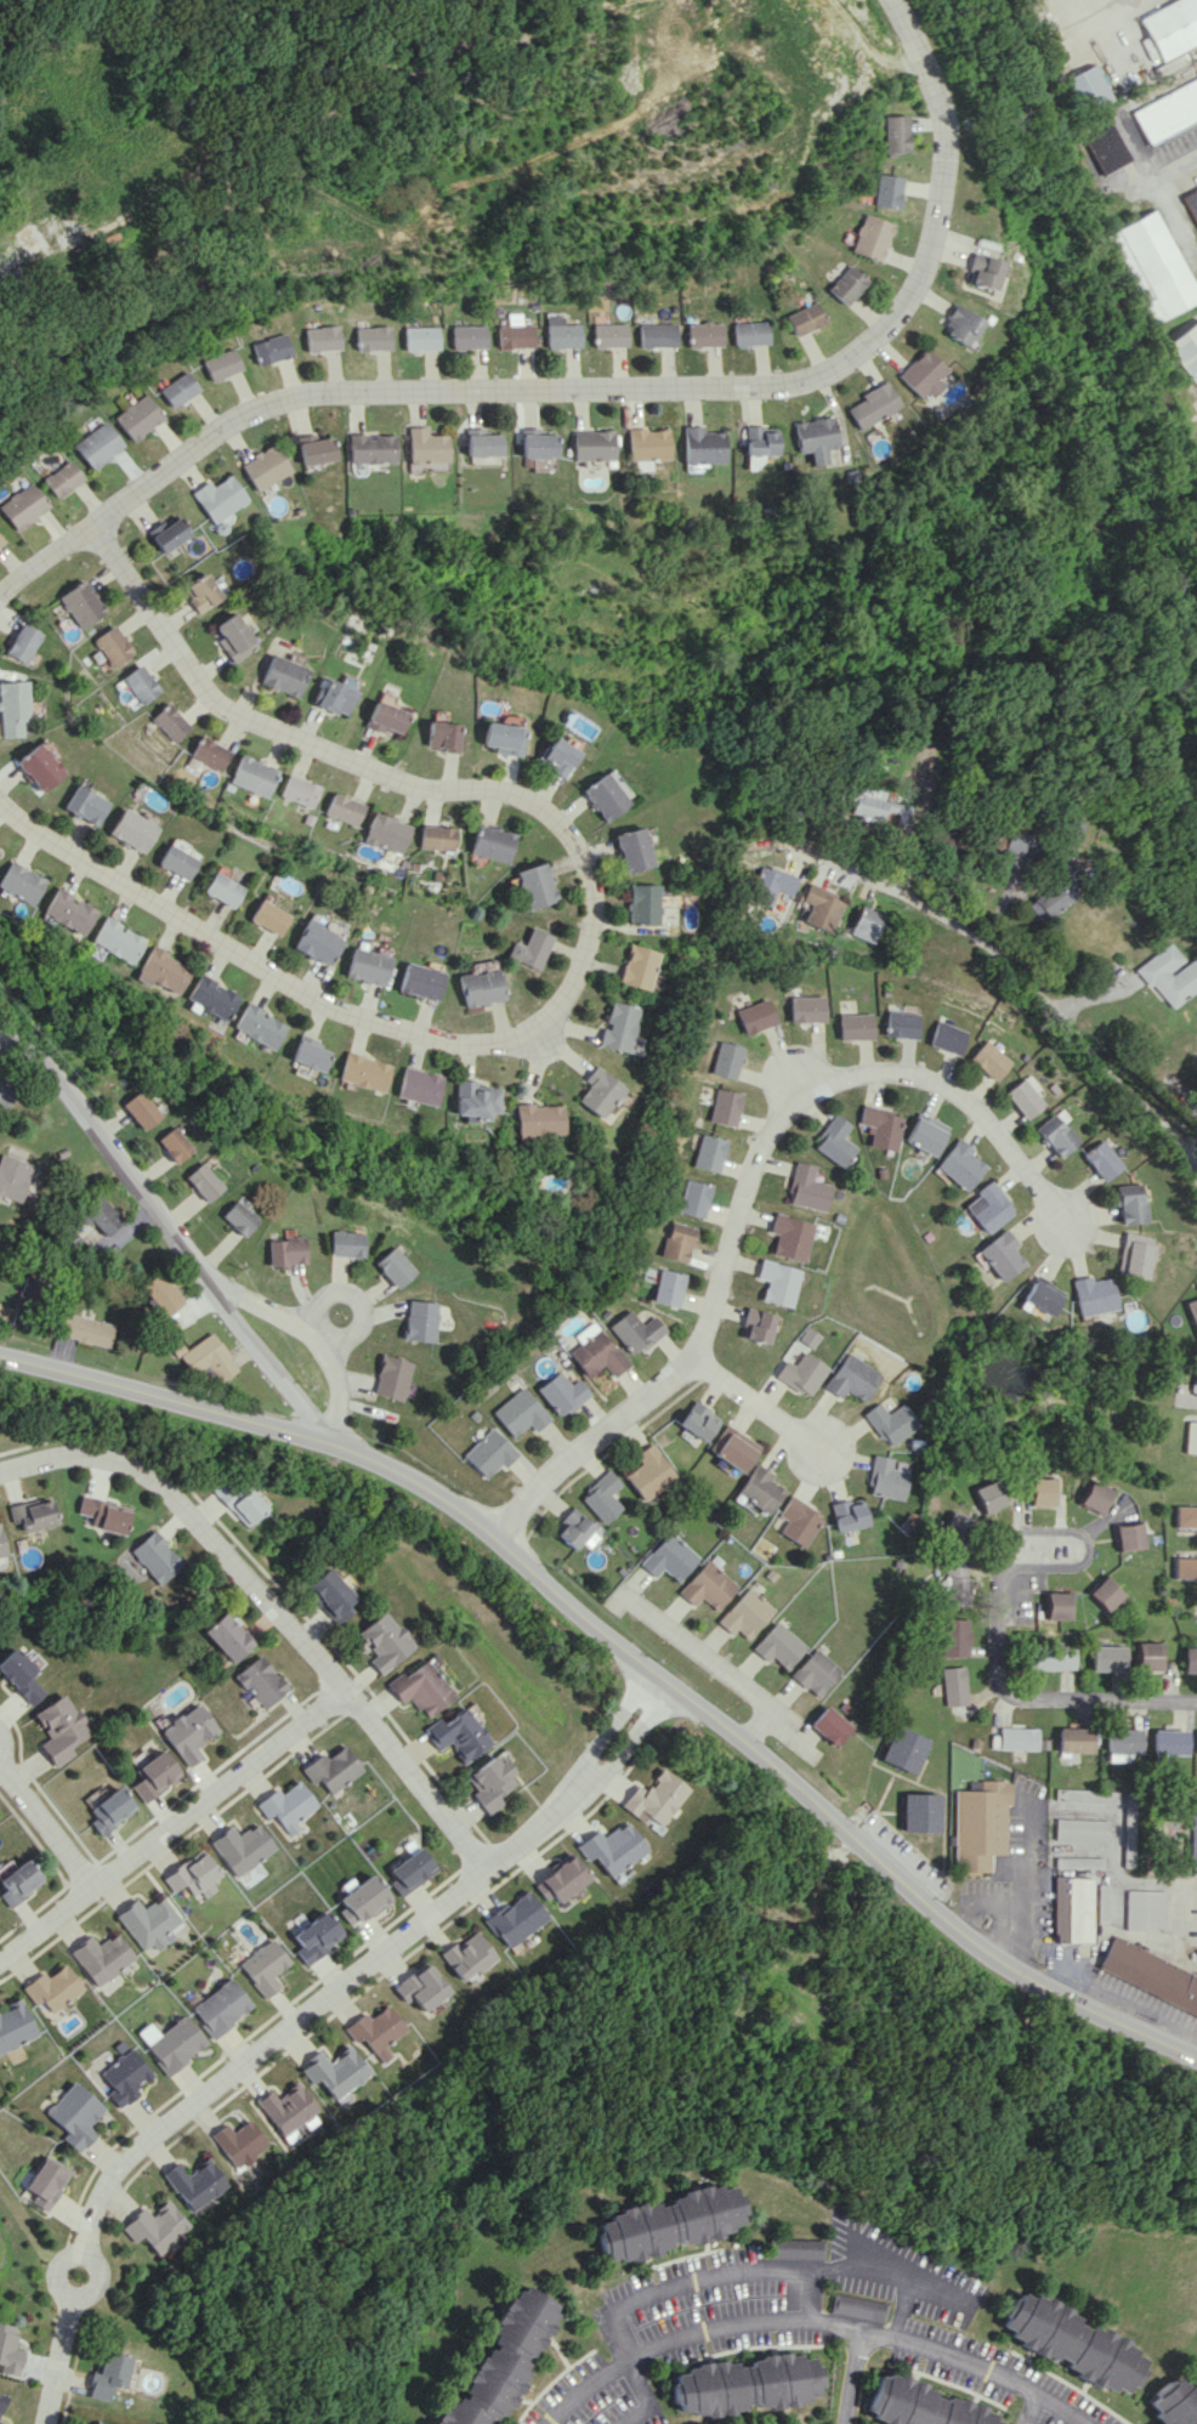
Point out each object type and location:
building: (1170, 25)
building: (1196, 70)
building: (1088, 85)
building: (1167, 112)
building: (896, 134)
building: (1106, 147)
road: (1167, 172)
building: (887, 191)
building: (1191, 200)
building: (872, 237)
building: (1152, 266)
building: (980, 271)
building: (846, 284)
building: (805, 318)
building: (958, 325)
building: (560, 331)
building: (514, 333)
building: (749, 333)
building: (609, 334)
building: (704, 334)
building: (656, 335)
building: (466, 336)
building: (371, 337)
building: (419, 337)
building: (322, 339)
building: (271, 348)
building: (1185, 350)
building: (221, 364)
building: (920, 374)
building: (177, 388)
road: (654, 393)
building: (869, 404)
building: (136, 416)
building: (811, 437)
building: (756, 439)
building: (478, 443)
building: (534, 443)
building: (95, 444)
building: (589, 444)
building: (699, 445)
building: (643, 447)
building: (368, 448)
building: (311, 449)
building: (422, 450)
building: (260, 466)
building: (58, 478)
building: (214, 500)
building: (19, 505)
building: (163, 533)
building: (198, 592)
building: (79, 603)
building: (233, 637)
building: (22, 642)
building: (112, 646)
building: (283, 675)
building: (141, 683)
building: (331, 697)
building: (13, 708)
building: (381, 717)
building: (171, 722)
building: (436, 736)
building: (500, 738)
building: (211, 753)
building: (556, 755)
building: (40, 766)
building: (254, 776)
building: (299, 790)
building: (607, 795)
building: (872, 804)
building: (85, 805)
building: (342, 808)
building: (132, 830)
building: (386, 833)
building: (436, 838)
building: (492, 842)
building: (1019, 842)
building: (632, 850)
building: (177, 861)
building: (19, 882)
building: (535, 885)
road: (588, 887)
building: (768, 887)
building: (222, 889)
building: (1059, 890)
building: (642, 904)
building: (819, 908)
building: (68, 912)
building: (268, 916)
building: (866, 924)
building: (115, 939)
building: (317, 942)
building: (529, 948)
building: (367, 966)
building: (636, 966)
building: (160, 970)
building: (1168, 975)
building: (420, 981)
road: (1048, 984)
building: (480, 987)
building: (211, 998)
building: (805, 1009)
building: (754, 1016)
building: (901, 1023)
building: (257, 1026)
building: (617, 1026)
building: (855, 1026)
building: (949, 1037)
building: (308, 1052)
building: (725, 1058)
building: (992, 1060)
building: (362, 1072)
road: (806, 1082)
building: (418, 1085)
building: (6, 1091)
building: (597, 1092)
building: (1028, 1096)
building: (475, 1099)
building: (724, 1107)
building: (140, 1109)
building: (537, 1119)
building: (878, 1126)
building: (1059, 1132)
building: (924, 1134)
building: (830, 1141)
building: (172, 1143)
building: (708, 1152)
building: (1105, 1159)
building: (959, 1164)
building: (13, 1177)
building: (203, 1181)
road: (742, 1183)
building: (805, 1188)
building: (694, 1198)
building: (1133, 1203)
building: (987, 1207)
building: (101, 1215)
building: (239, 1217)
road: (174, 1234)
building: (790, 1236)
building: (677, 1242)
building: (347, 1243)
building: (288, 1250)
building: (1136, 1254)
building: (999, 1255)
building: (396, 1266)
building: (777, 1282)
building: (666, 1287)
building: (161, 1294)
building: (1040, 1295)
building: (1094, 1295)
road: (356, 1299)
building: (25, 1301)
building: (1193, 1310)
building: (420, 1321)
building: (755, 1325)
building: (86, 1329)
building: (635, 1332)
road: (308, 1338)
building: (597, 1355)
building: (205, 1357)
building: (801, 1373)
building: (391, 1376)
building: (852, 1378)
building: (1195, 1383)
building: (562, 1393)
road: (759, 1401)
building: (520, 1412)
building: (475, 1414)
road: (222, 1420)
building: (697, 1420)
building: (890, 1421)
building: (1191, 1437)
building: (731, 1448)
building: (489, 1452)
building: (648, 1472)
building: (886, 1478)
building: (759, 1489)
building: (1040, 1491)
building: (601, 1497)
building: (989, 1497)
building: (1095, 1497)
building: (238, 1501)
building: (32, 1514)
building: (849, 1514)
building: (103, 1515)
building: (1185, 1516)
building: (798, 1521)
building: (953, 1527)
building: (574, 1531)
road: (1085, 1535)
building: (1128, 1535)
building: (1, 1549)
building: (154, 1556)
building: (669, 1557)
building: (1185, 1567)
building: (955, 1580)
building: (708, 1585)
building: (1106, 1593)
building: (329, 1594)
building: (1057, 1606)
road: (274, 1608)
building: (745, 1613)
building: (226, 1636)
building: (955, 1636)
building: (382, 1641)
building: (778, 1645)
building: (1148, 1656)
building: (1051, 1657)
building: (1108, 1658)
building: (1190, 1661)
building: (816, 1671)
building: (18, 1675)
road: (727, 1675)
building: (260, 1681)
building: (954, 1685)
building: (420, 1688)
road: (1038, 1705)
building: (830, 1724)
road: (608, 1727)
building: (57, 1728)
road: (762, 1731)
building: (187, 1732)
building: (458, 1735)
road: (0, 1736)
building: (1019, 1737)
building: (1074, 1739)
building: (1170, 1742)
road: (629, 1743)
building: (1122, 1743)
building: (903, 1749)
building: (331, 1769)
building: (153, 1775)
building: (489, 1782)
building: (1087, 1795)
road: (805, 1796)
building: (653, 1798)
building: (287, 1805)
building: (109, 1810)
building: (920, 1811)
building: (980, 1824)
road: (44, 1826)
road: (172, 1827)
building: (1080, 1829)
building: (1128, 1829)
building: (1192, 1830)
building: (242, 1847)
building: (612, 1847)
building: (410, 1870)
building: (194, 1874)
building: (558, 1880)
building: (17, 1881)
road: (1020, 1896)
building: (362, 1898)
road: (1175, 1901)
building: (1072, 1908)
building: (1145, 1909)
building: (515, 1918)
building: (149, 1923)
building: (316, 1936)
building: (466, 1955)
building: (102, 1957)
building: (265, 1966)
building: (1150, 1974)
building: (419, 1986)
building: (52, 1987)
building: (220, 2006)
building: (15, 2025)
building: (374, 2031)
building: (170, 2042)
road: (243, 2063)
building: (331, 2072)
building: (123, 2074)
building: (283, 2107)
building: (70, 2114)
building: (236, 2142)
building: (41, 2181)
building: (191, 2182)
building: (670, 2221)
building: (153, 2226)
building: (798, 2248)
road: (887, 2276)
road: (705, 2278)
building: (858, 2306)
road: (900, 2310)
road: (813, 2320)
building: (1071, 2341)
building: (8, 2351)
building: (503, 2360)
building: (108, 2373)
road: (849, 2377)
building: (744, 2384)
road: (646, 2396)
building: (1, 2400)
building: (1174, 2403)
building: (920, 2405)
road: (1031, 2409)
building: (2, 2423)
building: (97, 2423)

